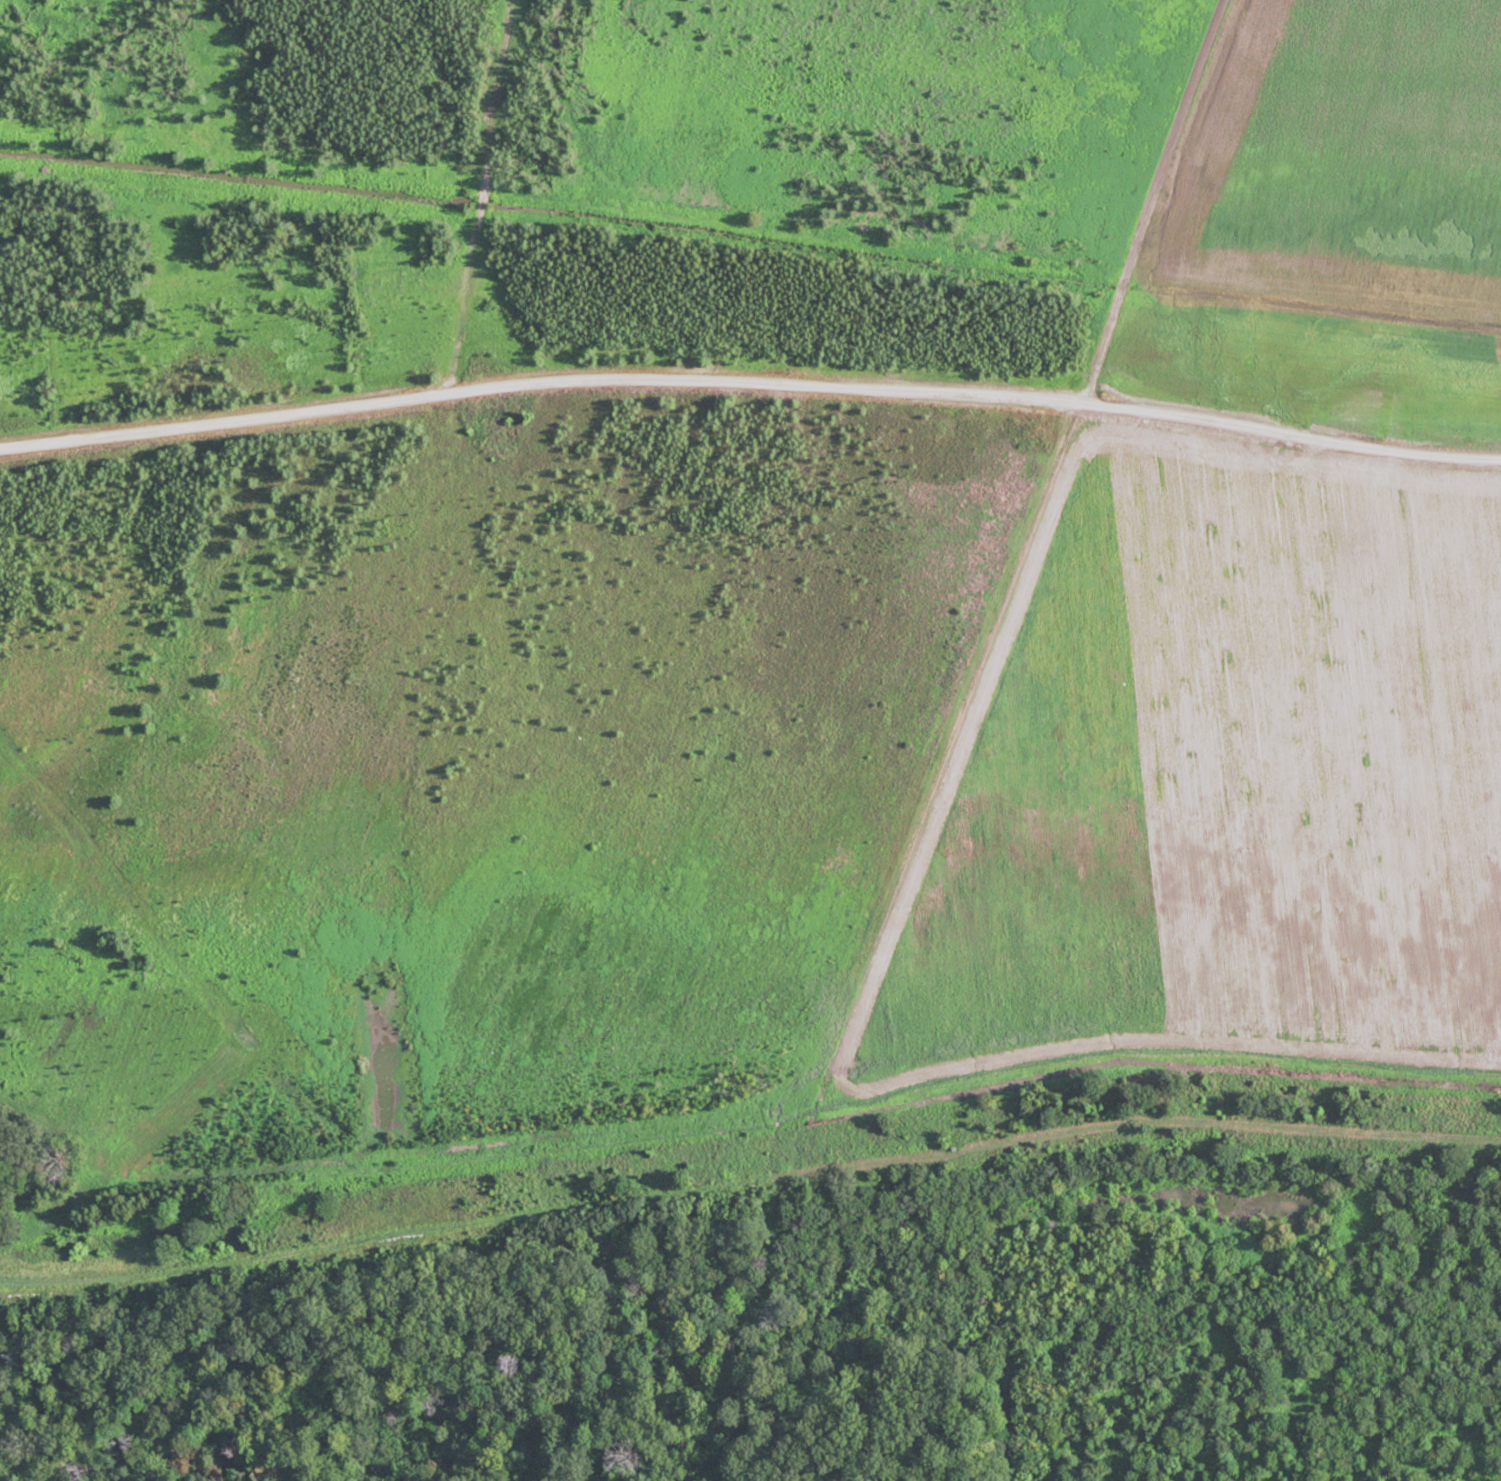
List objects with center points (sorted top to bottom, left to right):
road: (480, 199)
road: (1148, 201)
road: (751, 381)

